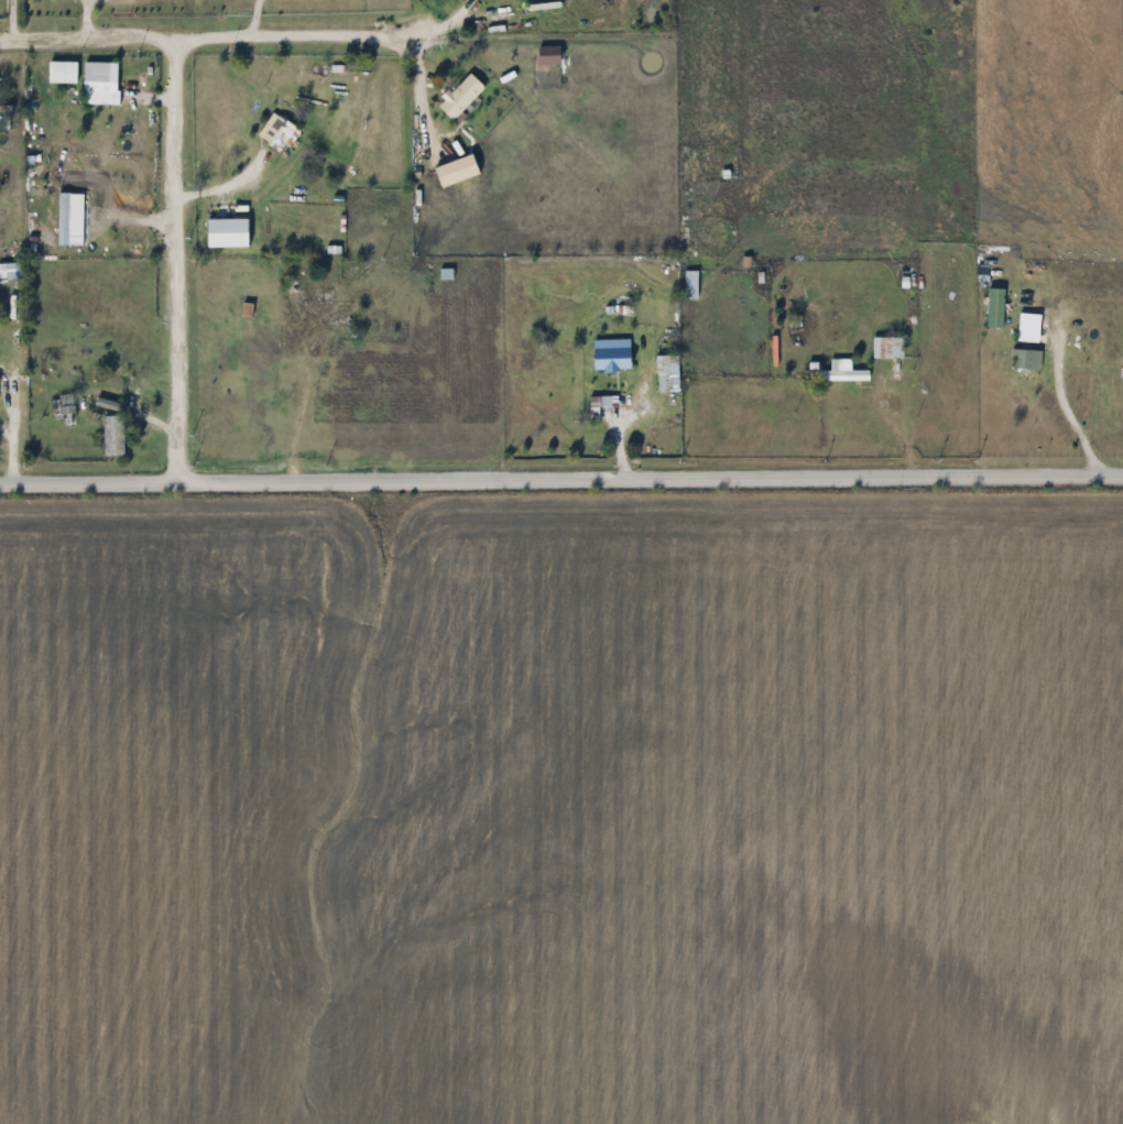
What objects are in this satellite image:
road: (208, 35)
road: (419, 87)
building: (102, 90)
building: (464, 98)
building: (35, 118)
building: (282, 135)
building: (421, 175)
road: (173, 259)
building: (342, 320)
building: (891, 348)
building: (615, 360)
building: (1029, 361)
building: (669, 373)
building: (852, 377)
building: (65, 407)
road: (1064, 419)
building: (116, 436)
road: (560, 481)

